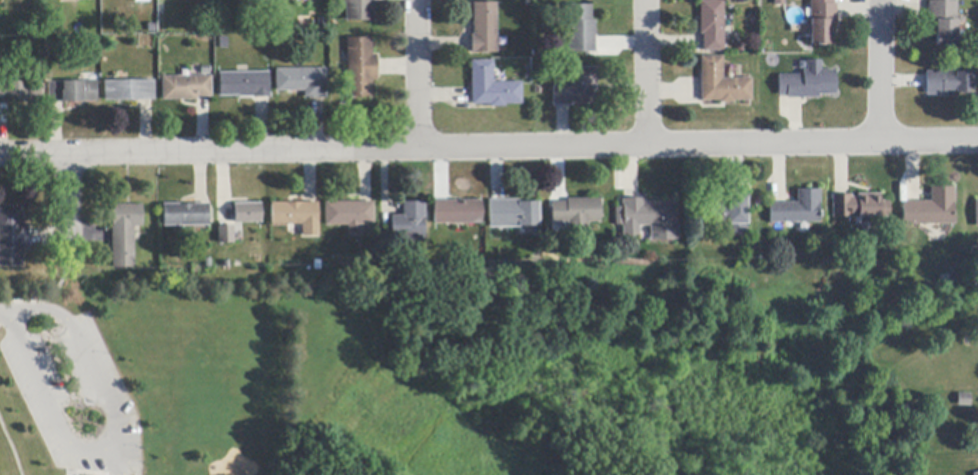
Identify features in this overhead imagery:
building: (141, 1)
building: (780, 2)
building: (360, 10)
building: (822, 21)
building: (943, 22)
building: (711, 25)
building: (485, 29)
building: (580, 31)
building: (360, 68)
road: (882, 71)
road: (647, 73)
road: (418, 75)
building: (303, 82)
building: (722, 83)
building: (808, 83)
building: (948, 84)
building: (245, 85)
building: (493, 87)
building: (186, 88)
building: (576, 88)
building: (130, 91)
building: (20, 92)
building: (73, 92)
road: (489, 149)
road: (70, 200)
building: (860, 206)
building: (931, 209)
building: (797, 210)
building: (458, 212)
building: (248, 214)
building: (513, 214)
building: (977, 214)
building: (188, 215)
building: (350, 215)
building: (576, 215)
building: (731, 215)
building: (297, 216)
building: (644, 216)
building: (410, 224)
building: (125, 234)
building: (226, 235)
building: (13, 237)
road: (55, 291)
road: (55, 305)
road: (5, 312)
road: (91, 361)
park: (433, 380)
building: (964, 400)
road: (47, 403)
road: (11, 444)
road: (68, 462)
road: (90, 471)
building: (976, 474)

